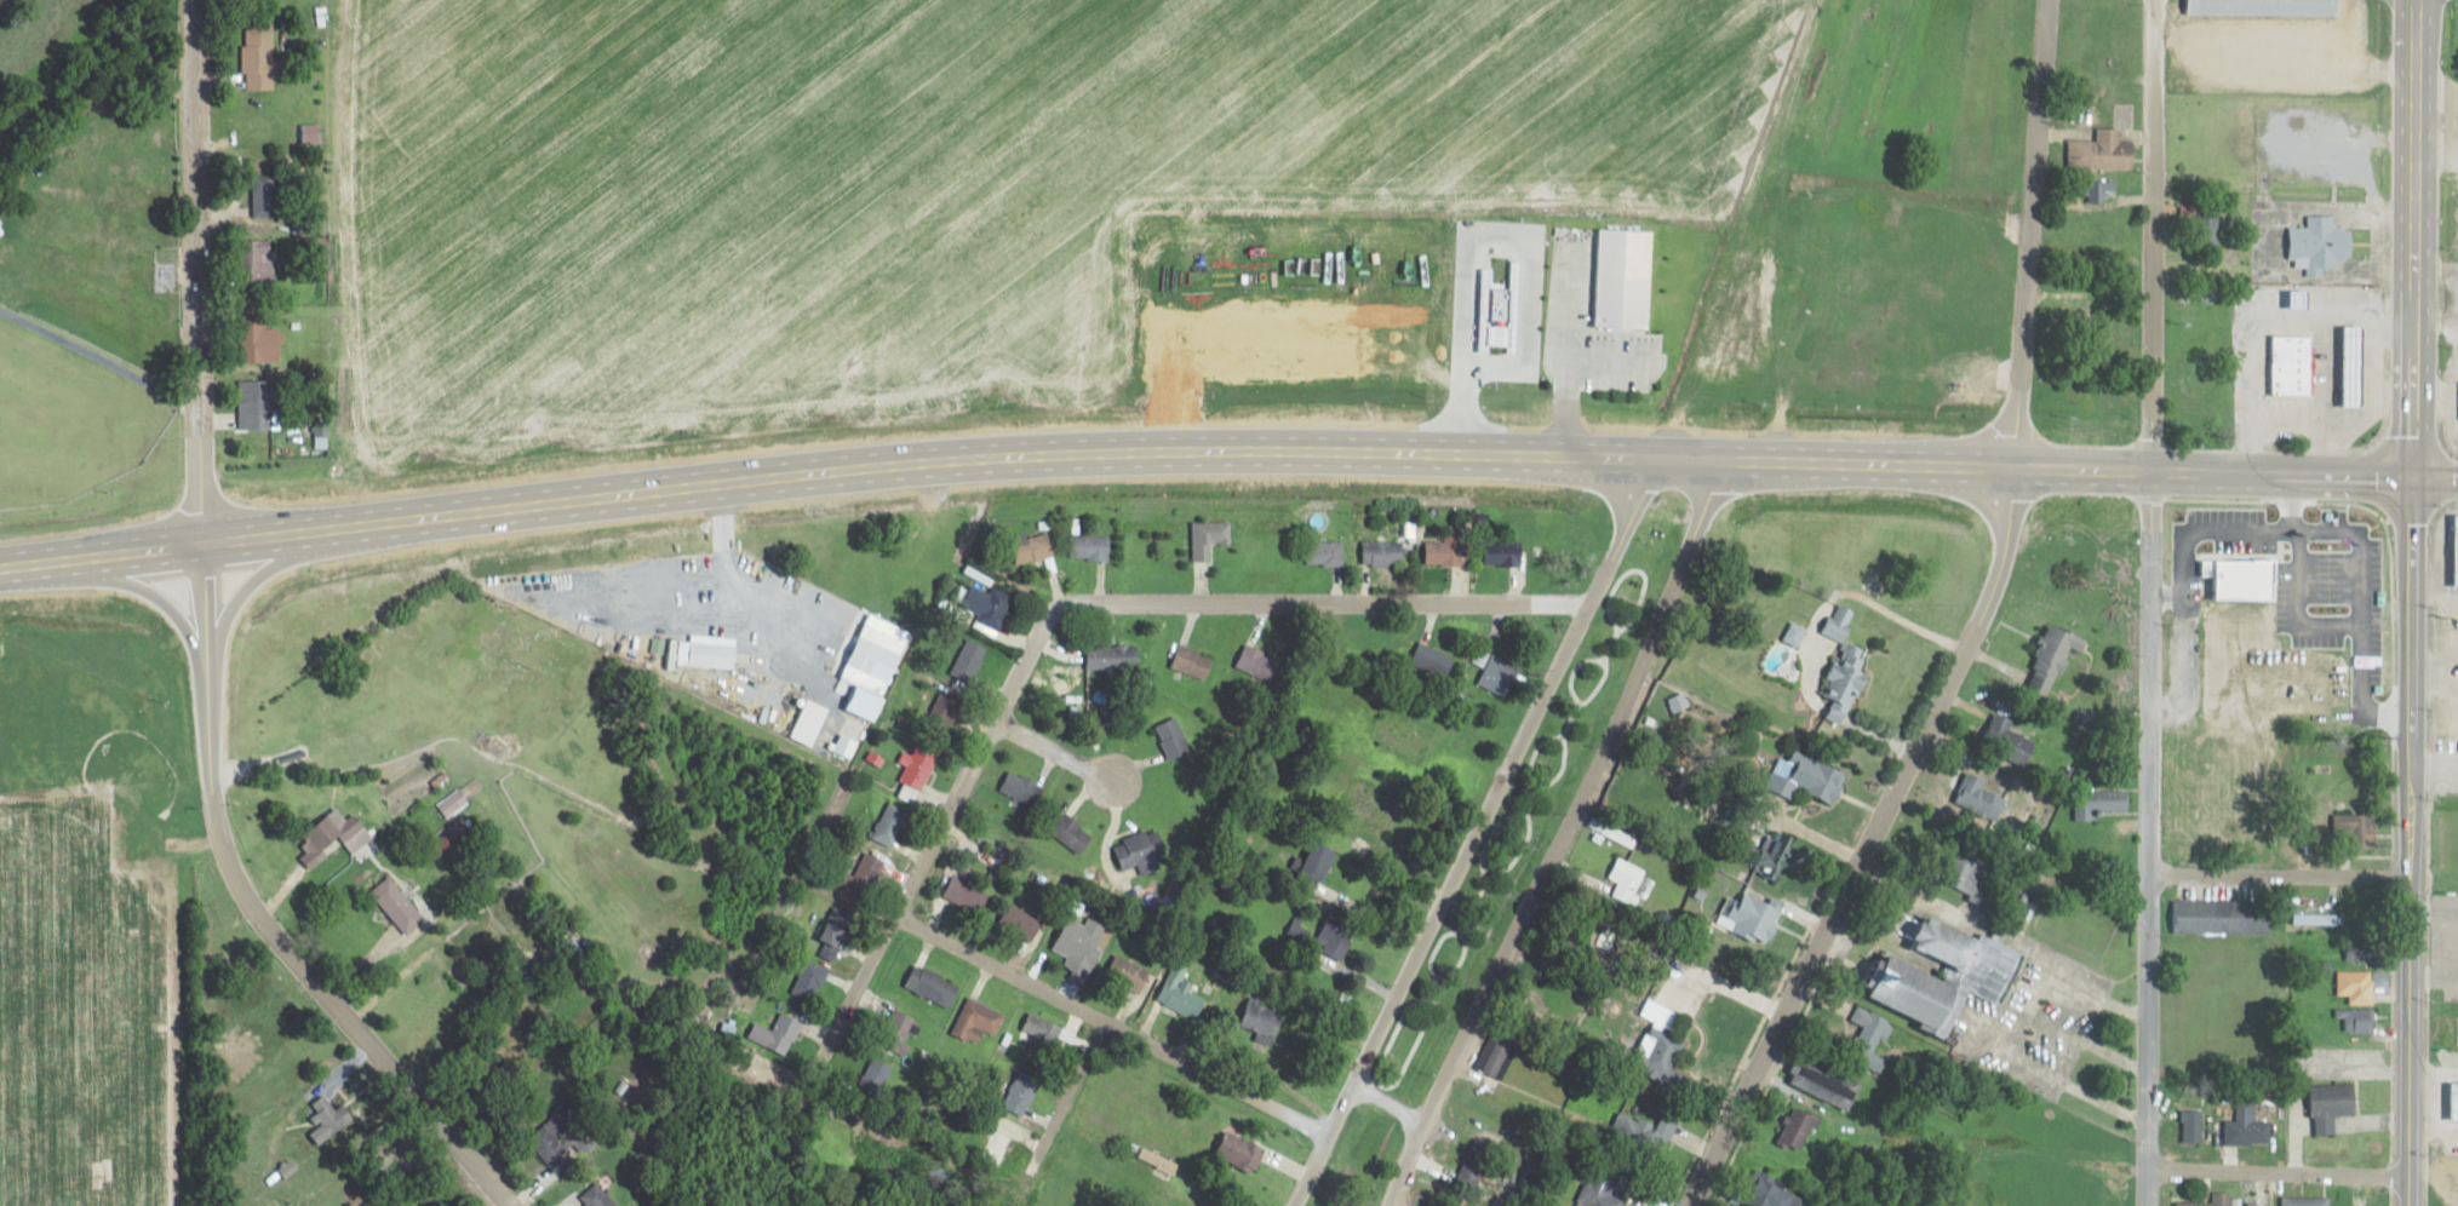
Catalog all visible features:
building: (2263, 7)
building: (259, 53)
building: (2104, 150)
building: (53, 155)
building: (2204, 223)
building: (1, 229)
road: (2032, 234)
building: (2321, 241)
building: (256, 264)
road: (199, 265)
building: (1625, 278)
building: (253, 343)
building: (2292, 363)
building: (2207, 381)
building: (256, 404)
road: (1226, 455)
building: (1203, 535)
building: (1032, 546)
building: (2457, 550)
building: (1084, 551)
building: (2227, 553)
building: (1318, 555)
building: (1446, 555)
building: (1376, 557)
building: (1497, 557)
building: (2349, 565)
road: (2154, 602)
road: (2412, 602)
building: (987, 604)
road: (1039, 622)
building: (1839, 622)
building: (1113, 659)
building: (1432, 660)
building: (2051, 660)
building: (968, 661)
building: (1192, 661)
building: (1257, 664)
building: (1738, 664)
building: (1494, 671)
building: (1847, 679)
building: (1397, 735)
building: (1171, 737)
building: (2010, 740)
road: (1060, 753)
building: (918, 765)
building: (1816, 776)
building: (1022, 787)
building: (1976, 794)
building: (2110, 798)
building: (1371, 800)
building: (2355, 822)
building: (889, 823)
building: (325, 832)
building: (1071, 832)
road: (1473, 833)
road: (1560, 838)
road: (1867, 843)
building: (155, 844)
building: (1139, 848)
building: (1778, 848)
building: (1320, 861)
building: (157, 863)
building: (865, 873)
road: (2280, 874)
building: (1971, 875)
building: (1627, 879)
building: (975, 898)
building: (397, 904)
building: (2362, 907)
road: (252, 911)
building: (2223, 915)
building: (1761, 918)
building: (2317, 919)
building: (1020, 920)
building: (835, 932)
building: (1334, 938)
building: (1073, 946)
building: (2351, 949)
building: (1128, 974)
building: (808, 981)
building: (933, 986)
building: (2355, 988)
building: (1914, 992)
building: (1182, 1000)
building: (1259, 1018)
building: (2355, 1020)
building: (976, 1021)
road: (1111, 1023)
building: (786, 1028)
building: (895, 1029)
building: (1869, 1039)
building: (1039, 1040)
road: (1272, 1045)
building: (1497, 1051)
building: (1665, 1063)
building: (876, 1080)
building: (1829, 1086)
building: (1020, 1092)
building: (2454, 1101)
road: (1388, 1103)
building: (2332, 1105)
building: (327, 1116)
building: (2191, 1126)
building: (1798, 1127)
building: (2247, 1127)
building: (557, 1137)
building: (1242, 1152)
building: (1476, 1161)
road: (2279, 1168)
building: (1598, 1190)
building: (596, 1196)
building: (1778, 1196)
building: (2222, 1196)
building: (2305, 1201)
building: (2252, 1205)

